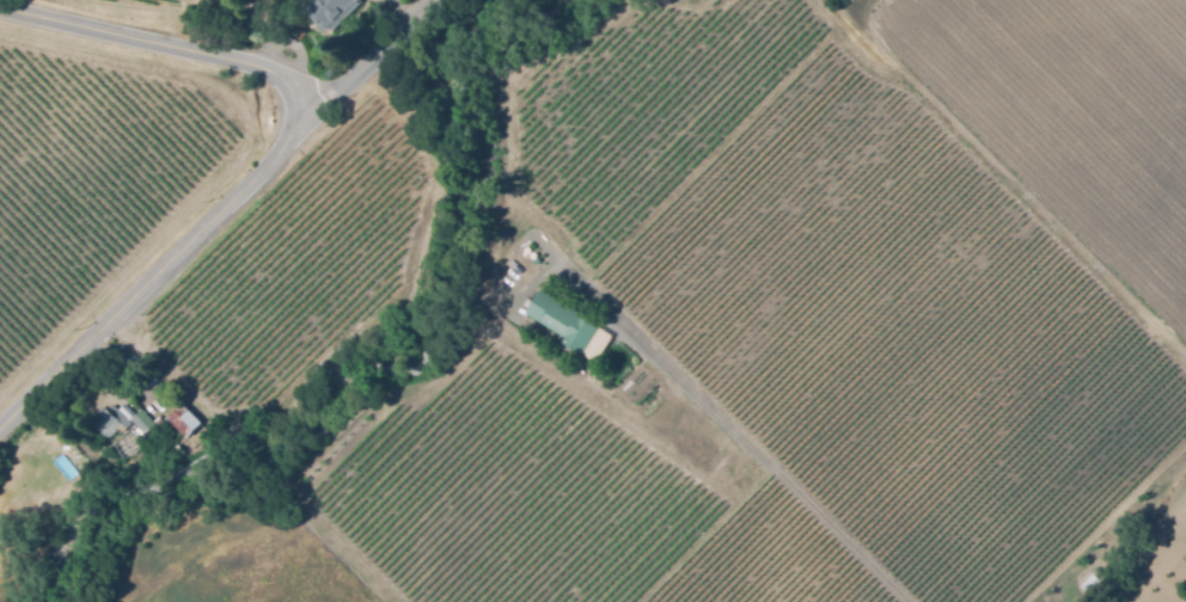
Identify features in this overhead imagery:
building: (332, 10)
road: (372, 62)
road: (273, 161)
building: (566, 321)
building: (183, 422)
building: (118, 423)
road: (752, 448)
building: (173, 453)
building: (1090, 579)

